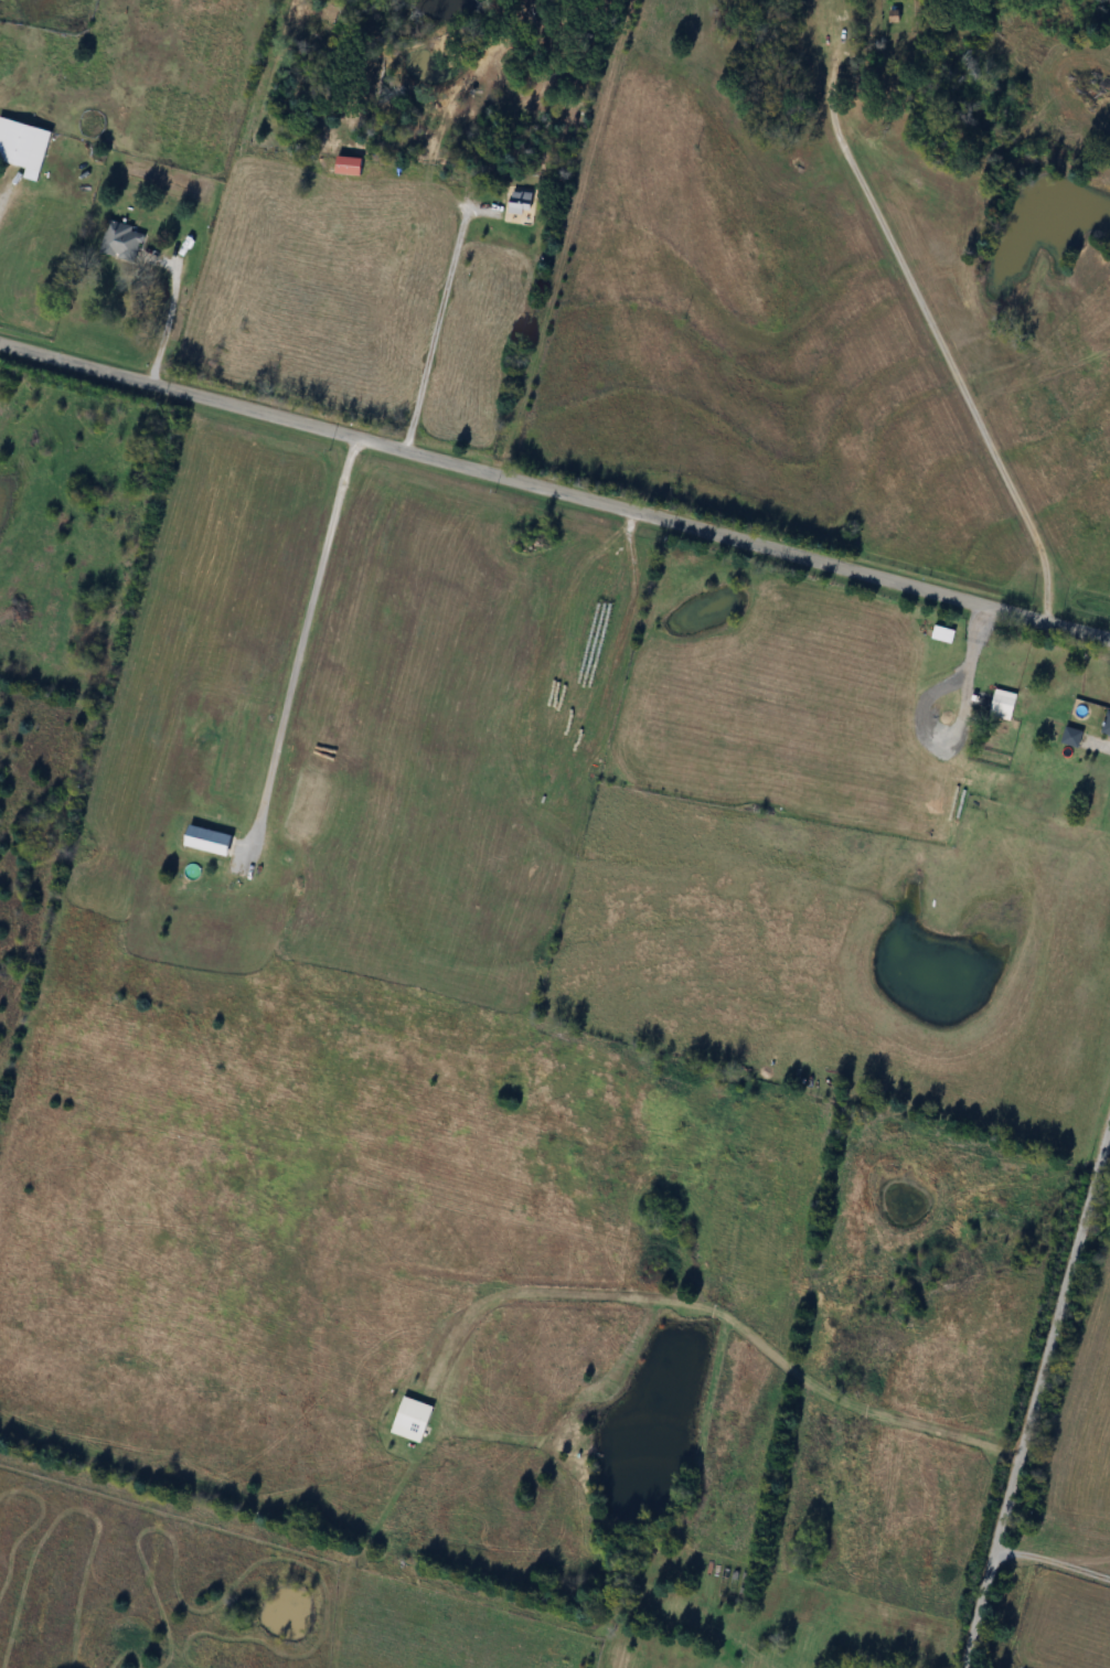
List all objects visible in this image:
building: (24, 143)
road: (3, 194)
building: (522, 203)
building: (122, 242)
road: (439, 316)
road: (929, 316)
road: (162, 319)
road: (555, 492)
building: (944, 633)
road: (302, 640)
building: (1002, 707)
building: (1106, 724)
building: (1071, 736)
road: (1097, 741)
building: (211, 841)
road: (718, 1312)
road: (1038, 1396)
road: (1054, 1560)

